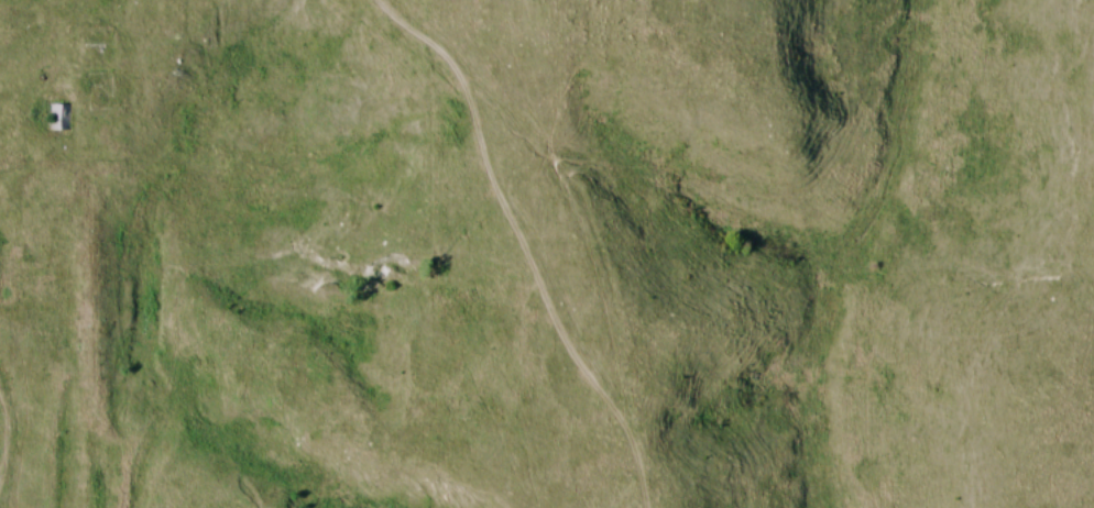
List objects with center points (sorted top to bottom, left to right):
building: (62, 117)

